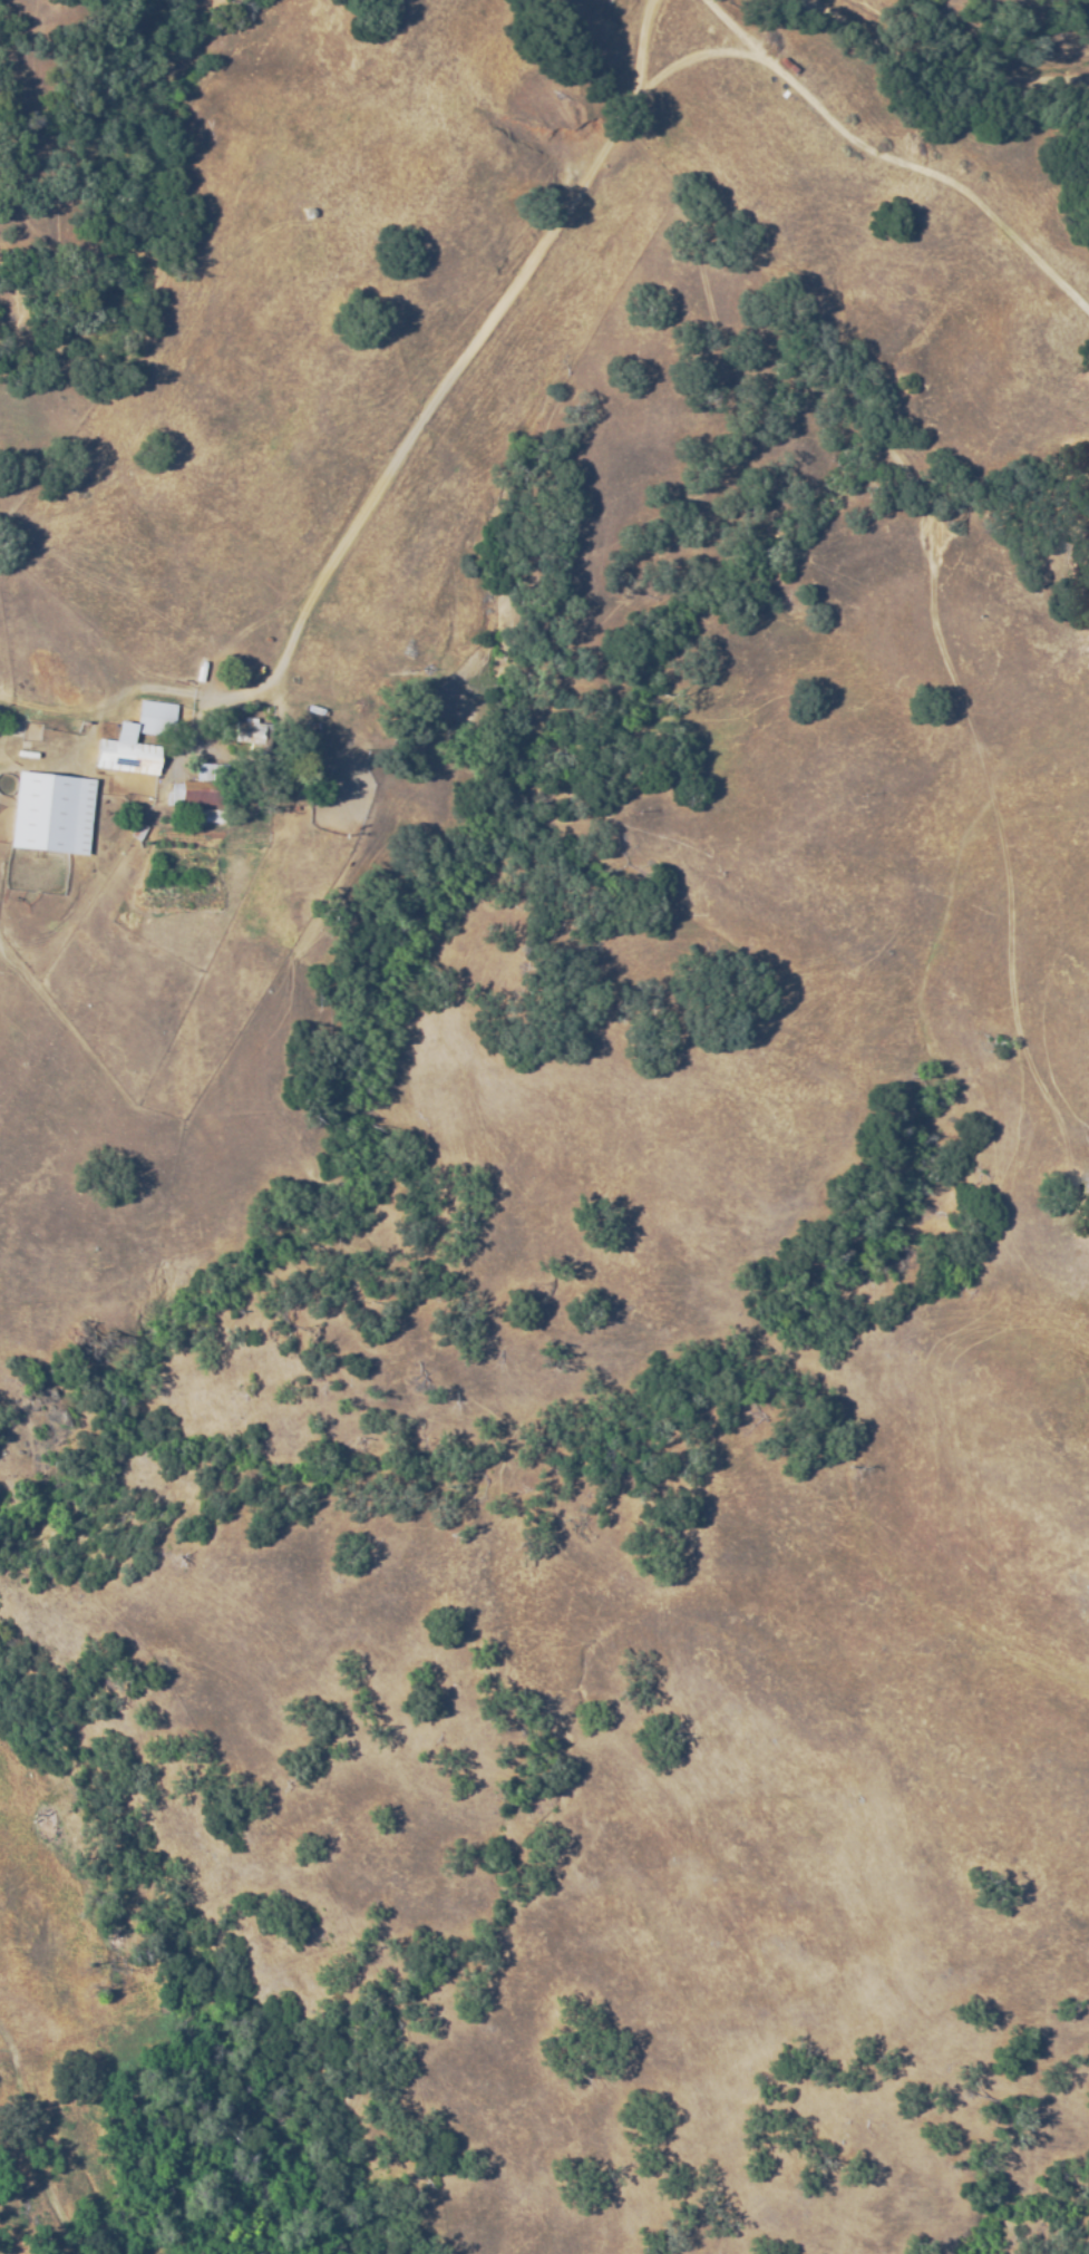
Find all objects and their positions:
road: (973, 78)
building: (309, 212)
road: (673, 658)
building: (314, 709)
building: (155, 715)
building: (309, 732)
building: (255, 737)
building: (125, 748)
building: (206, 788)
building: (50, 814)
building: (204, 817)
building: (136, 832)

